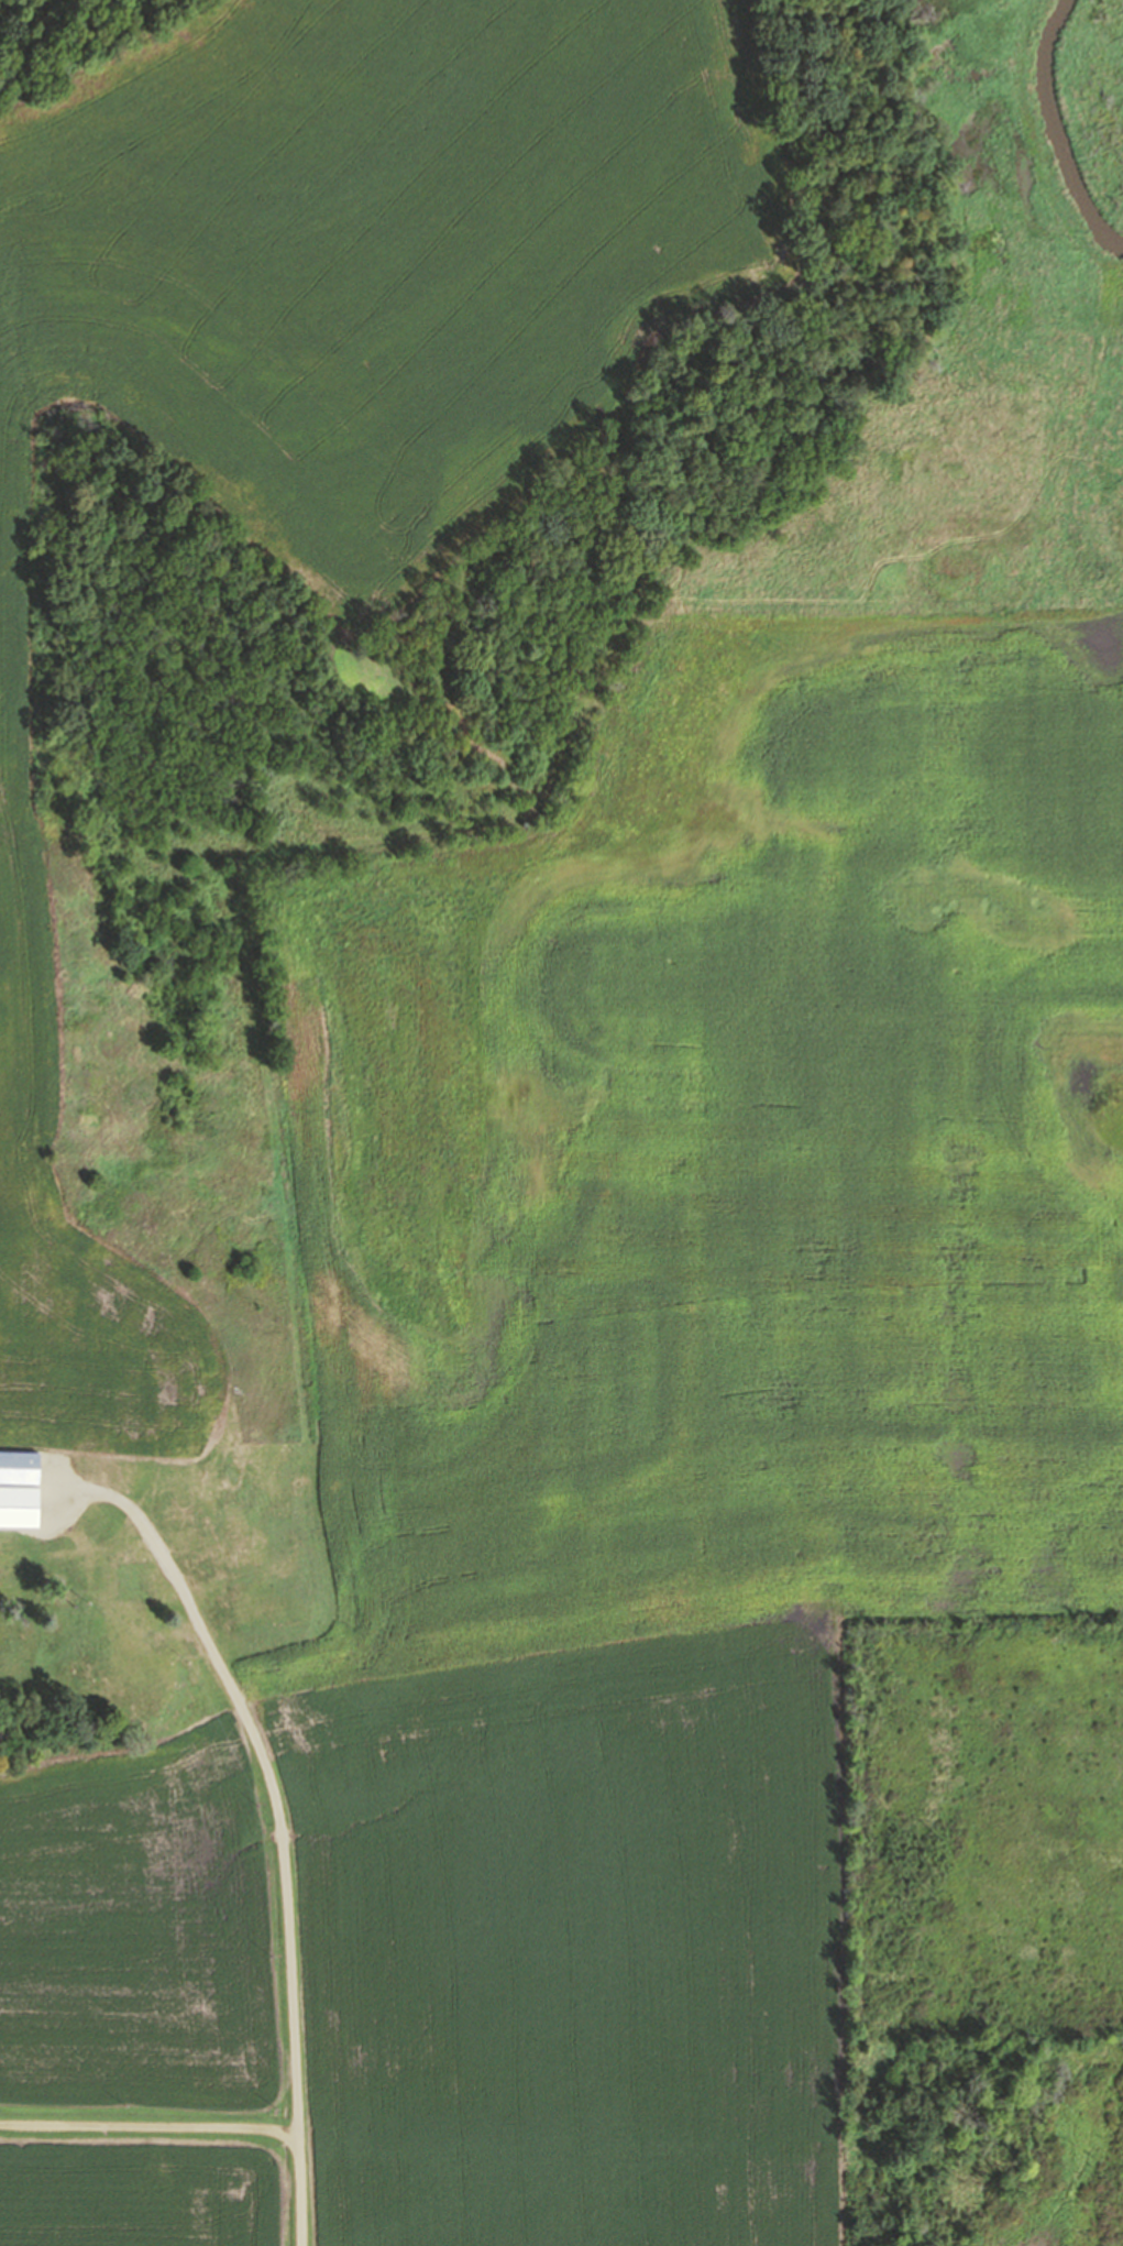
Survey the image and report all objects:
building: (21, 1468)
building: (21, 1507)
building: (10, 1573)
building: (271, 1595)
road: (276, 1807)
road: (202, 2126)

